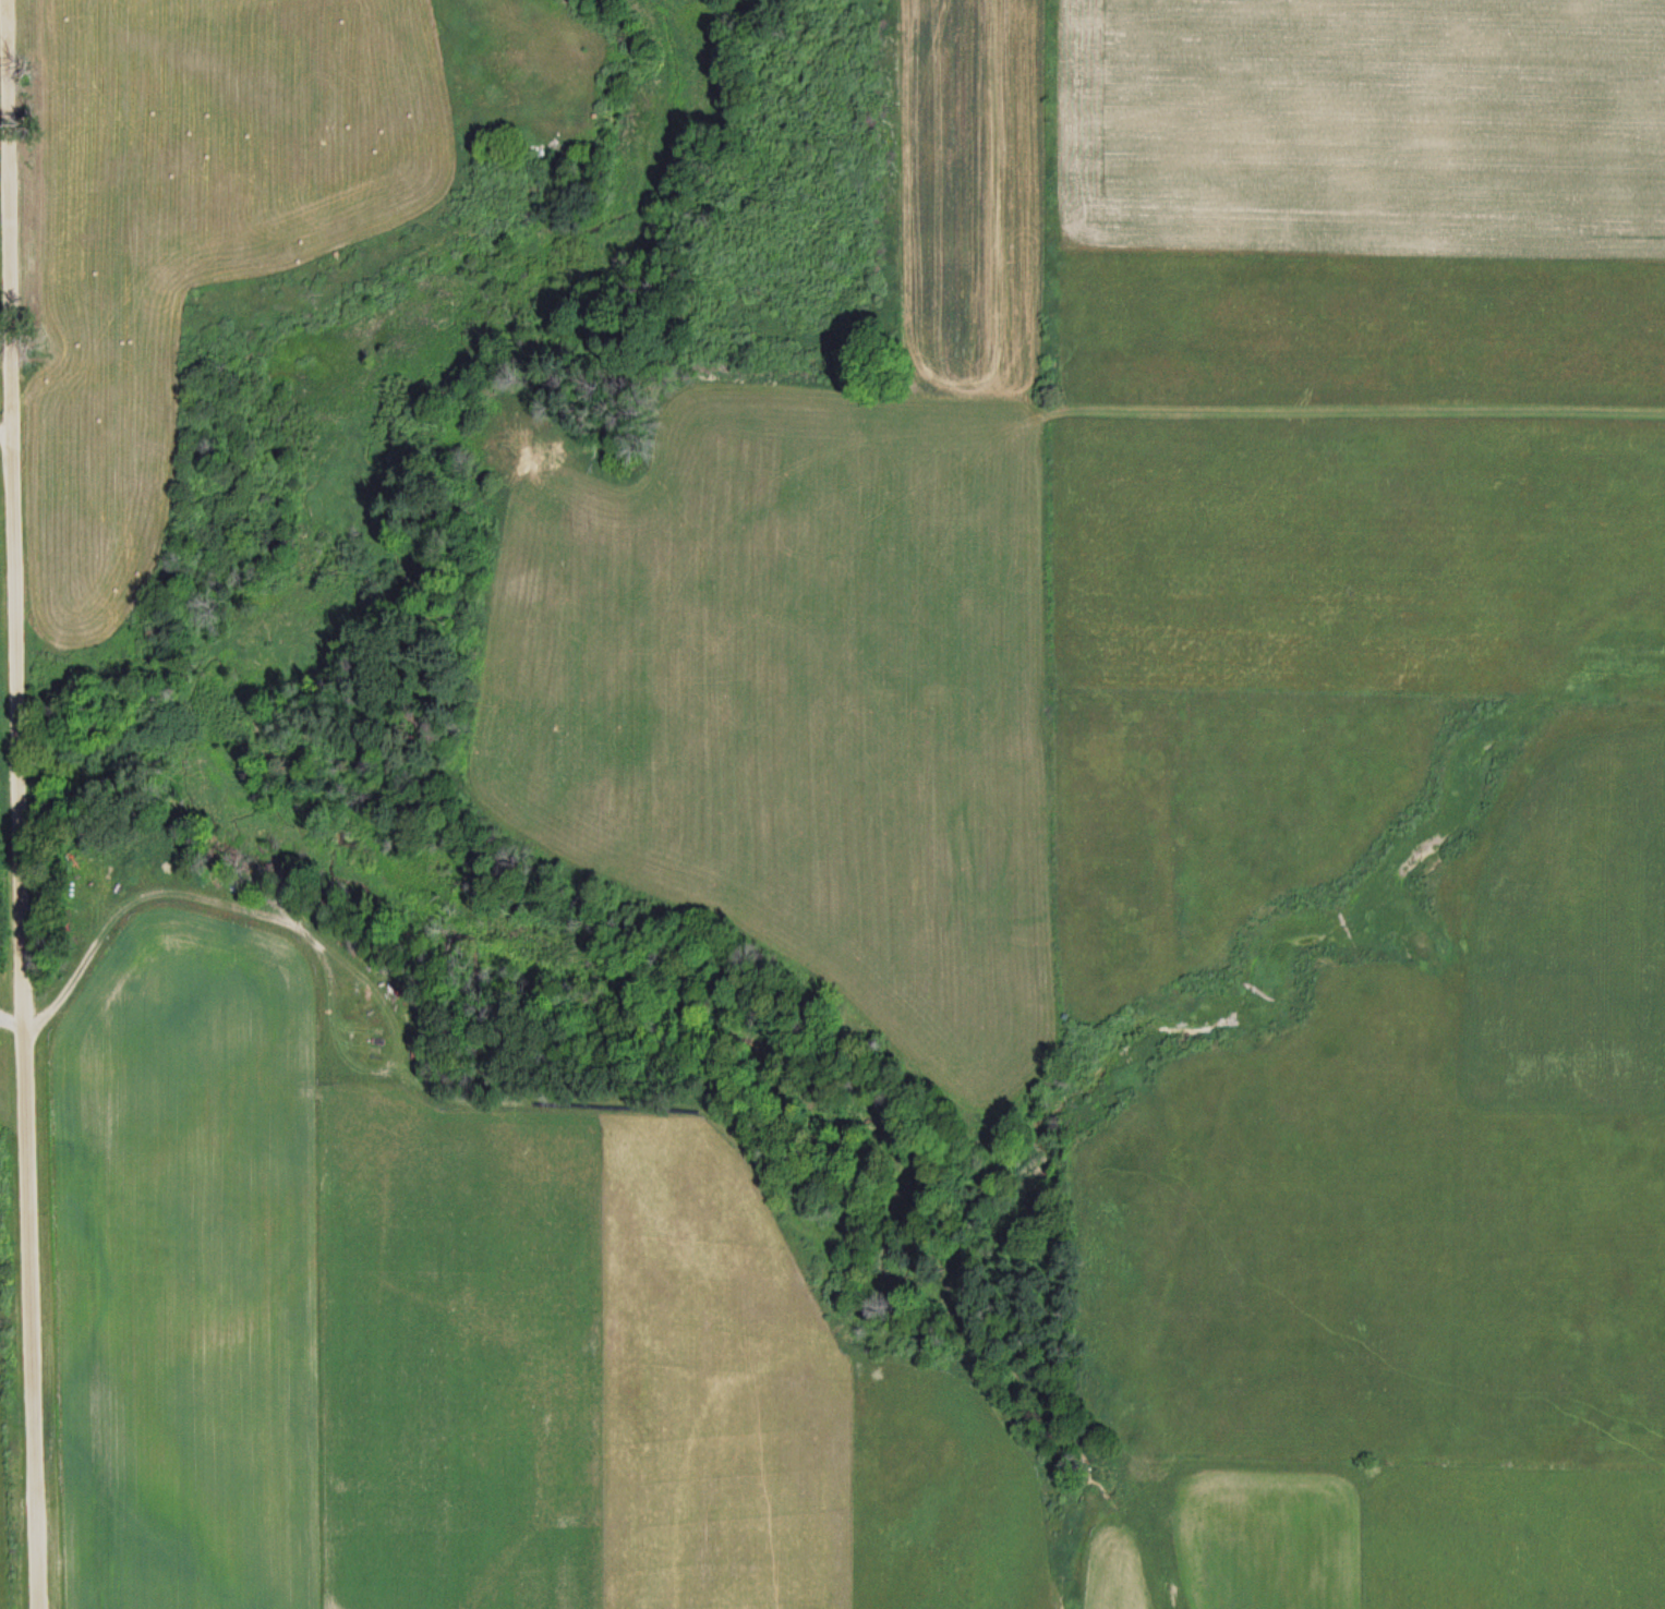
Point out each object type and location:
road: (24, 804)

